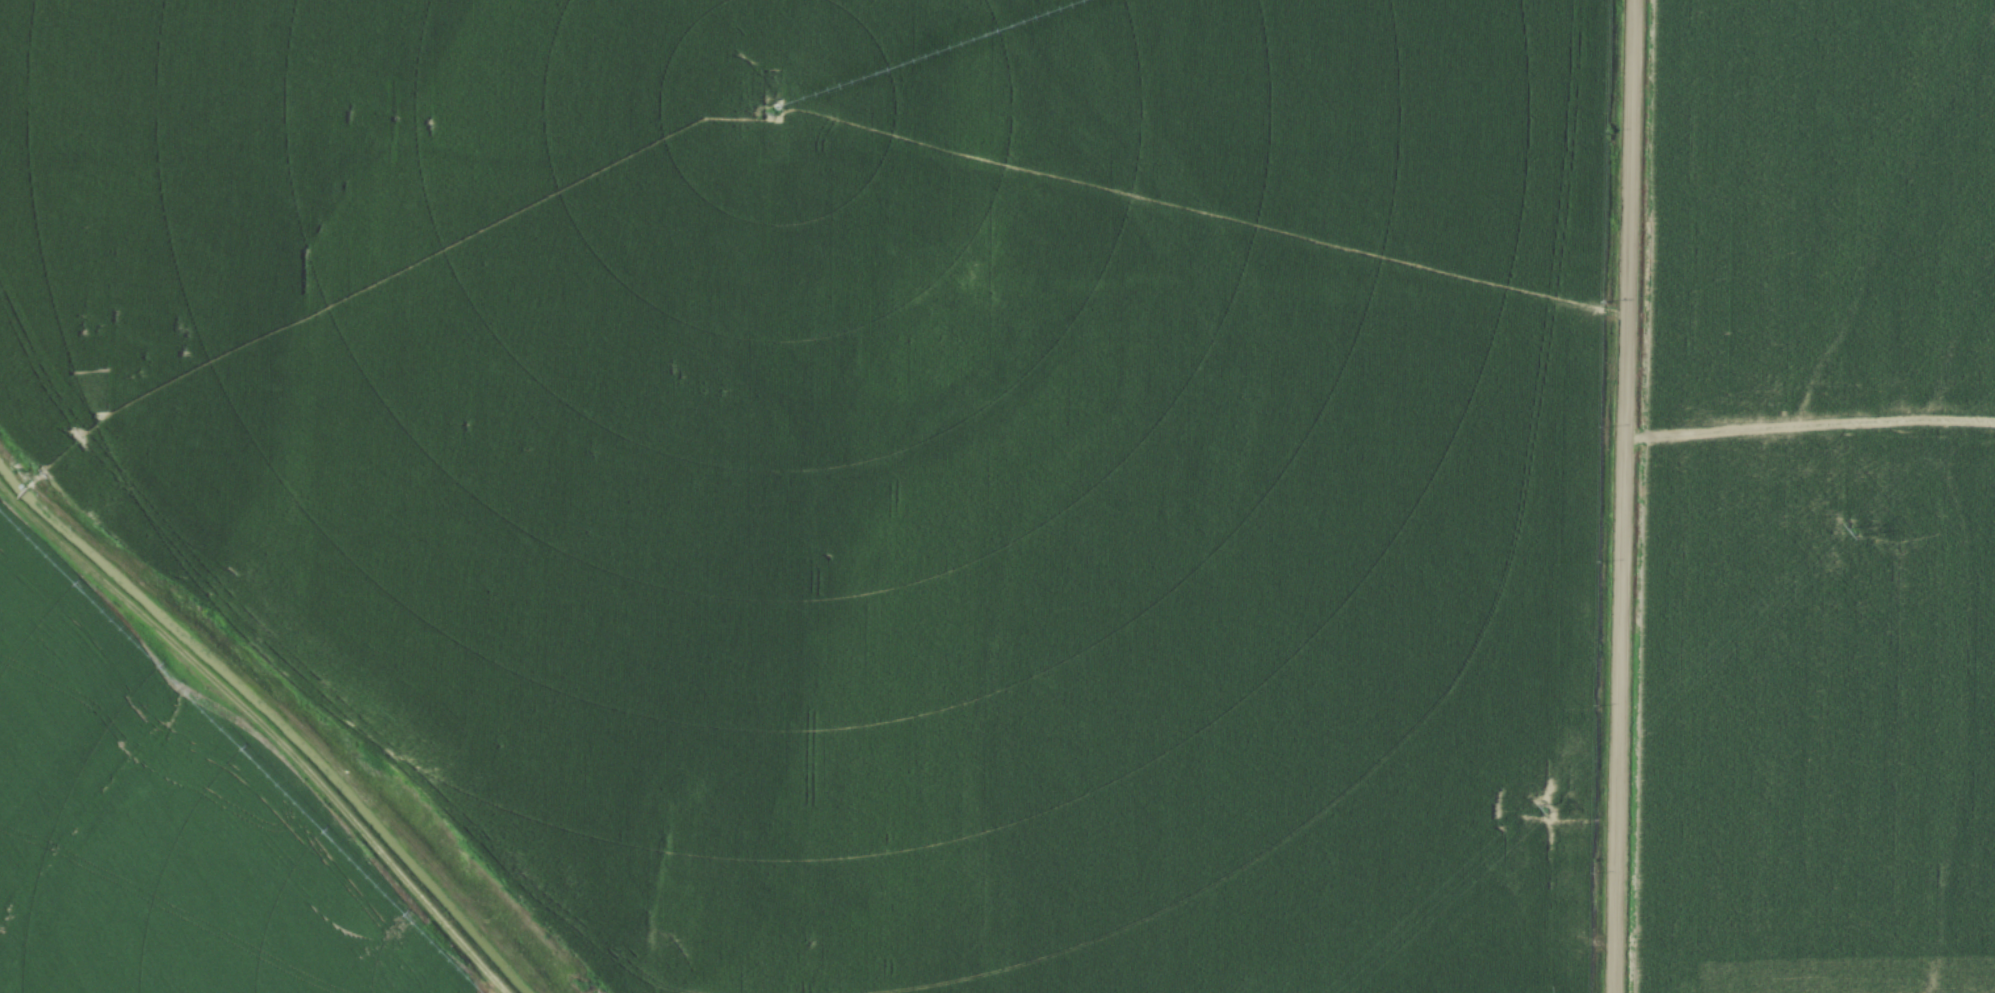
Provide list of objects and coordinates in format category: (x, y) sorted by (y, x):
road: (1617, 496)
power tower: (1855, 532)
power tower: (1546, 809)

